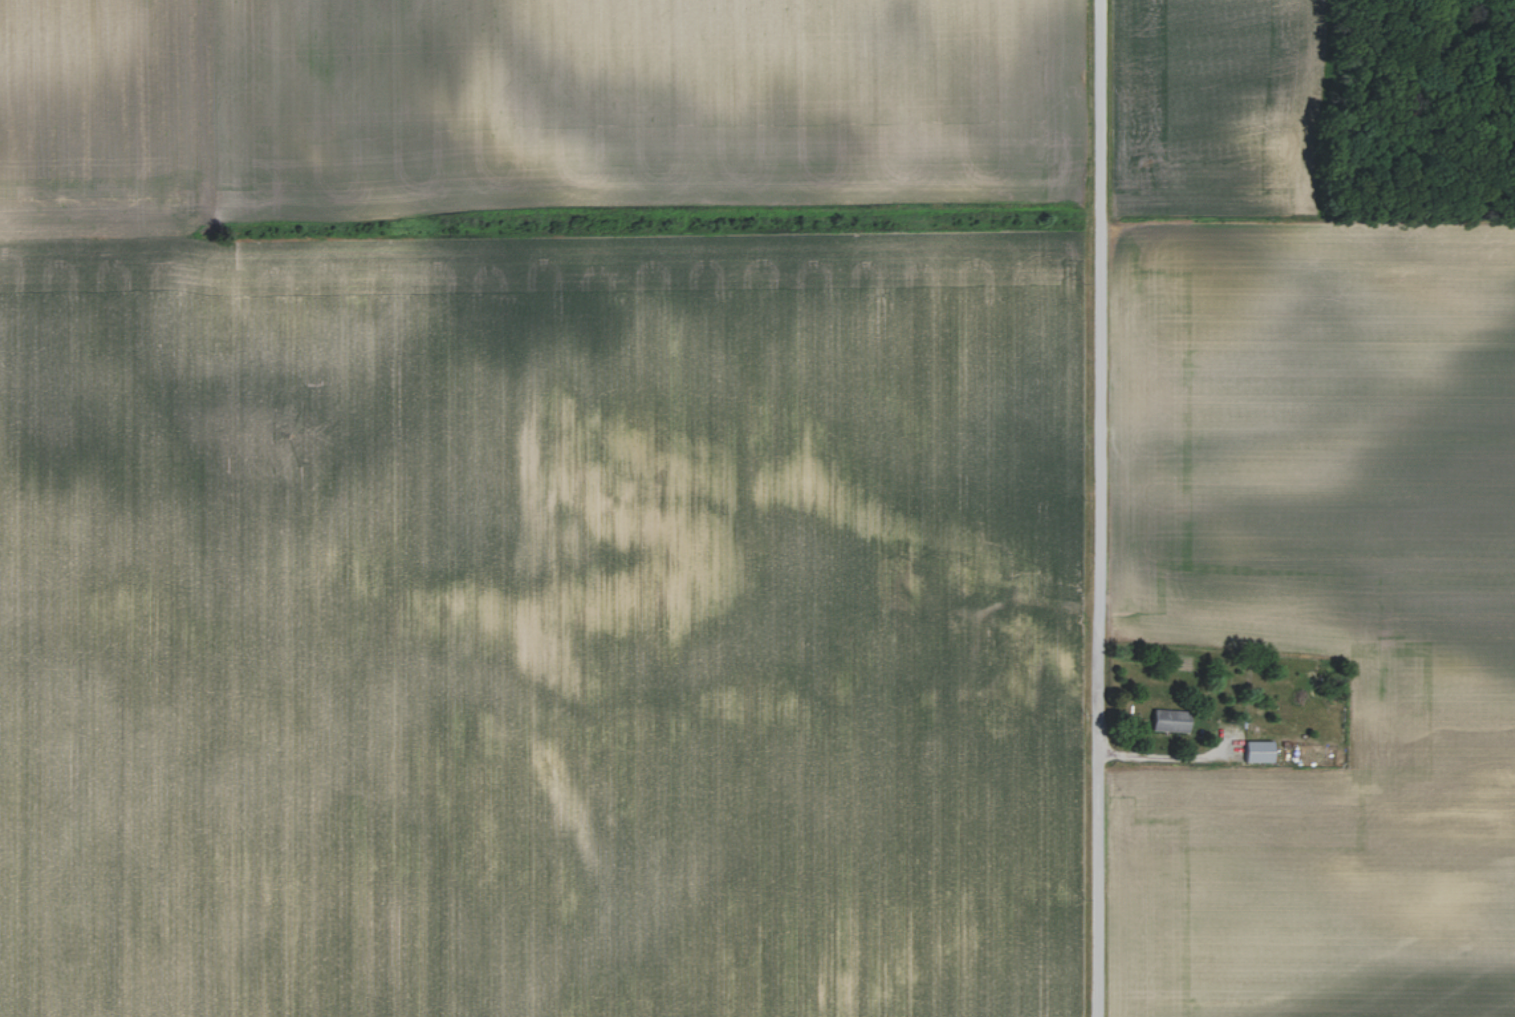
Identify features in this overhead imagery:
road: (1094, 508)
building: (1178, 723)

